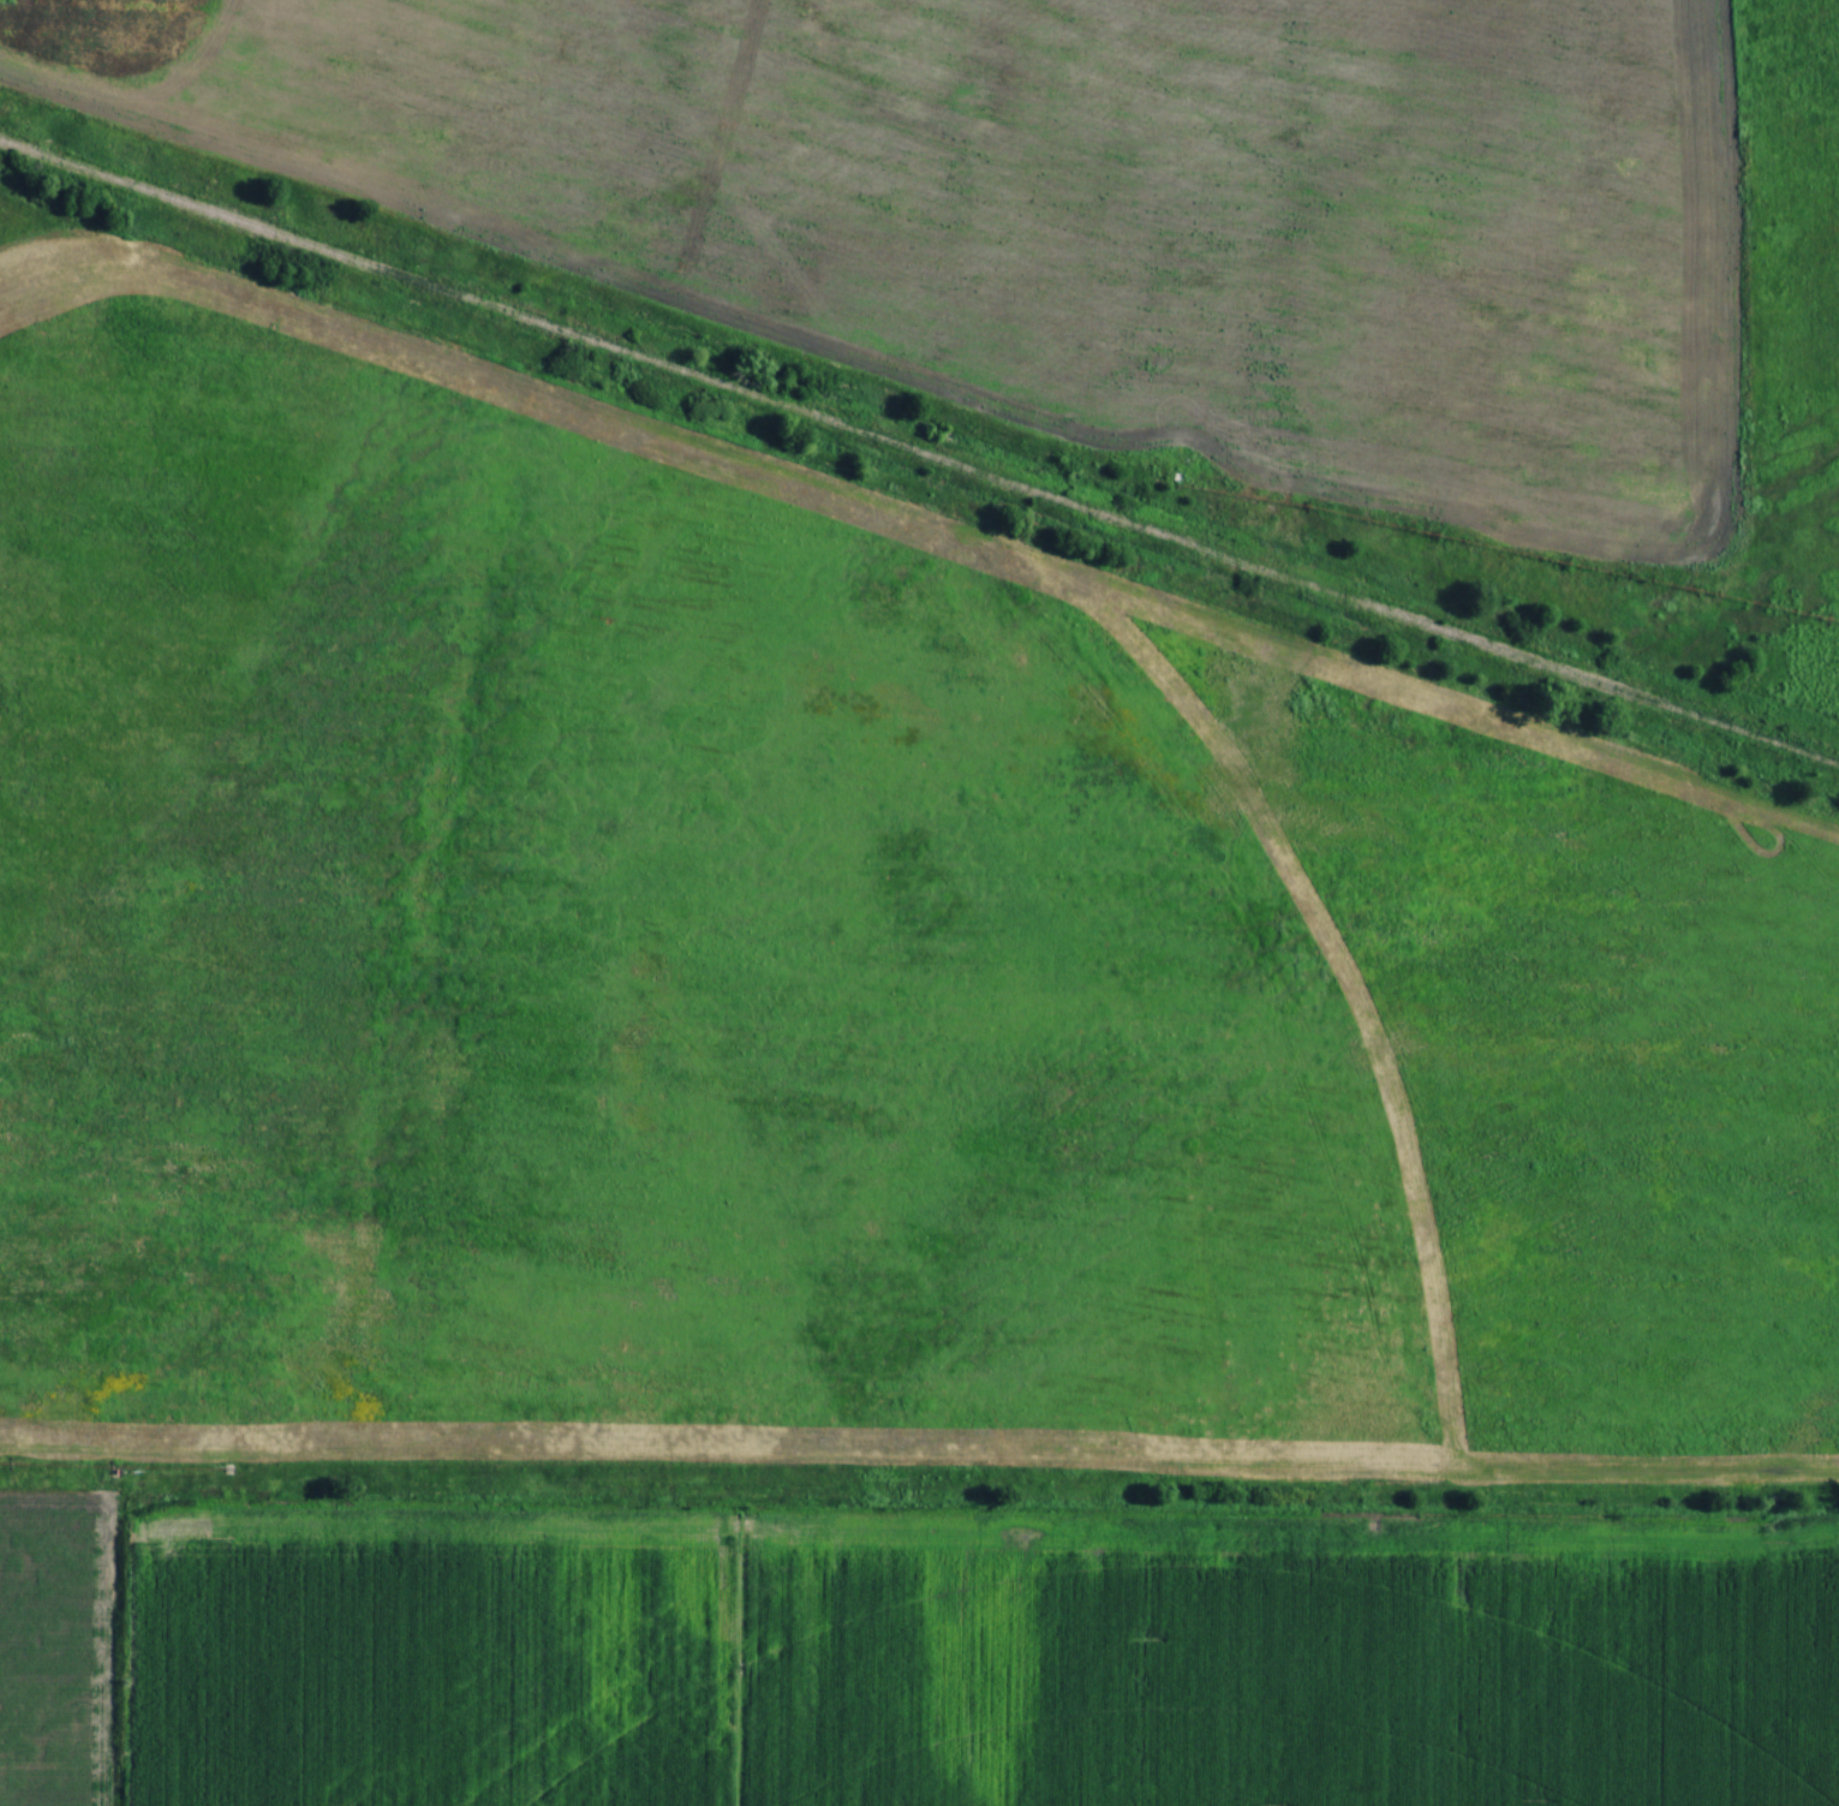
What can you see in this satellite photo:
railway: (919, 463)

